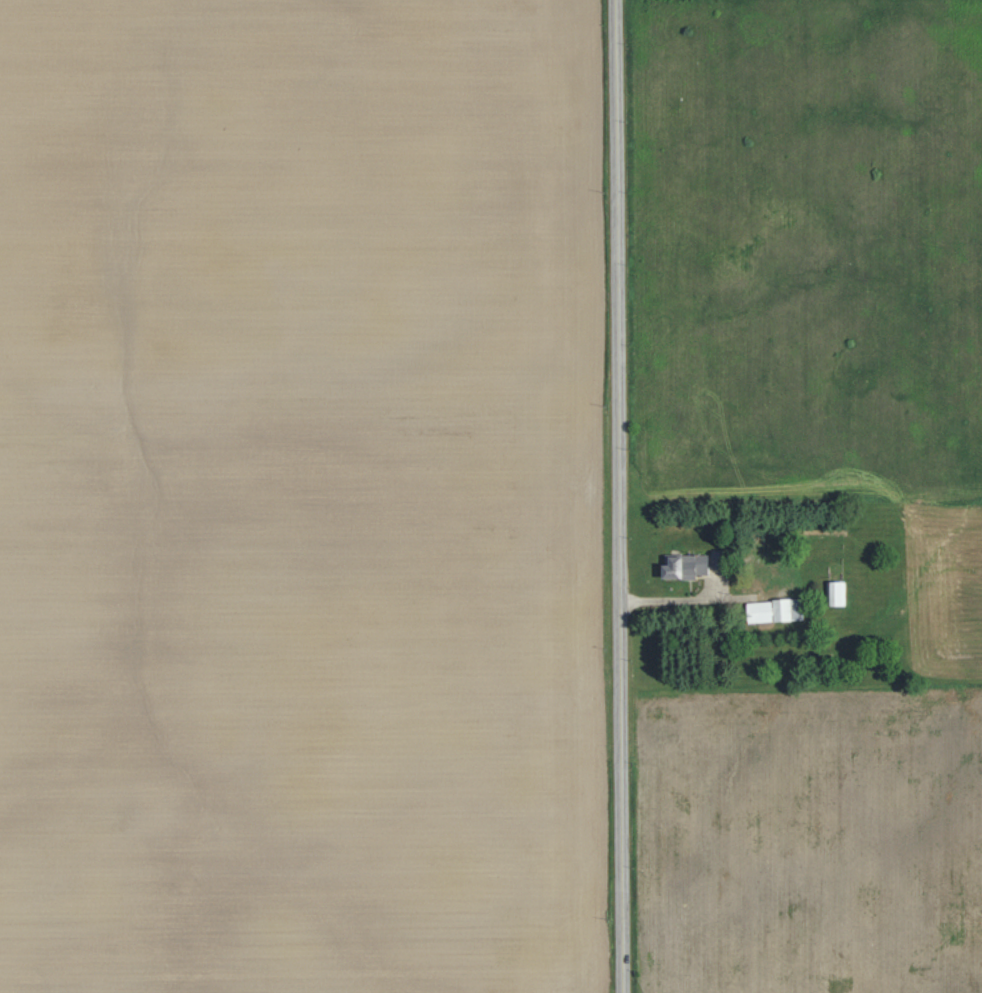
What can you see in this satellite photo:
road: (618, 496)
building: (715, 559)
building: (685, 567)
building: (836, 594)
building: (774, 611)

